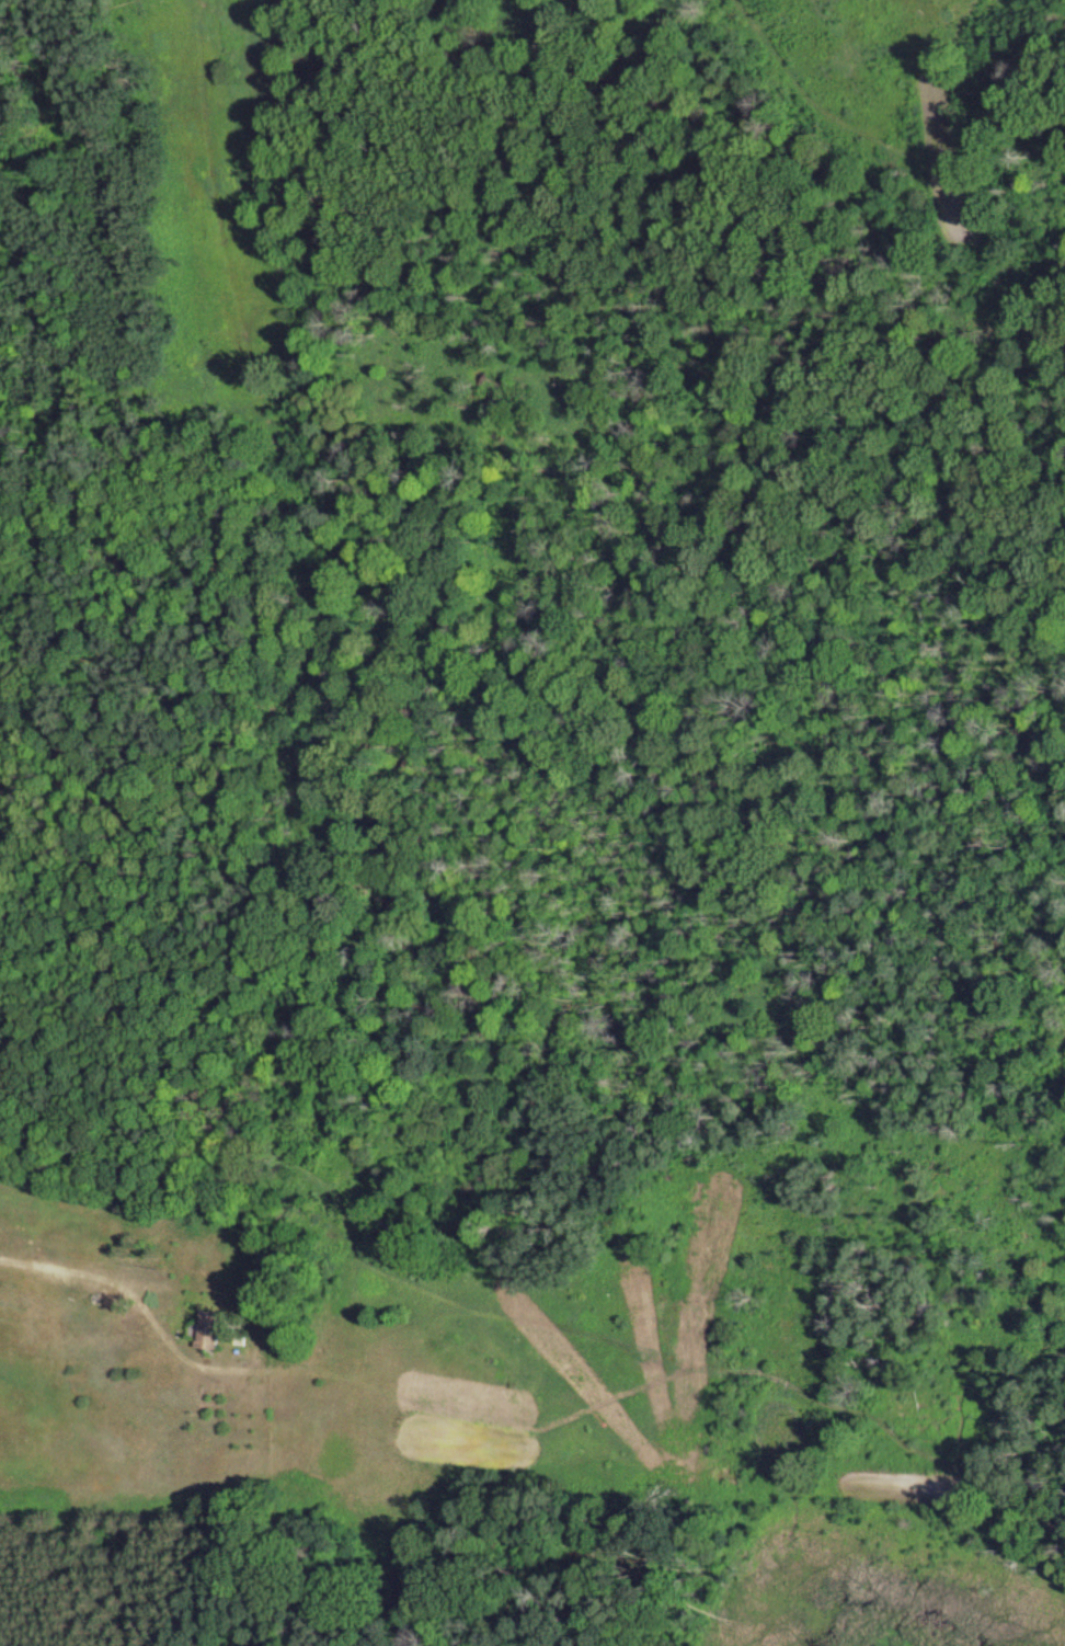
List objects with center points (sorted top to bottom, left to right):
building: (213, 1336)

